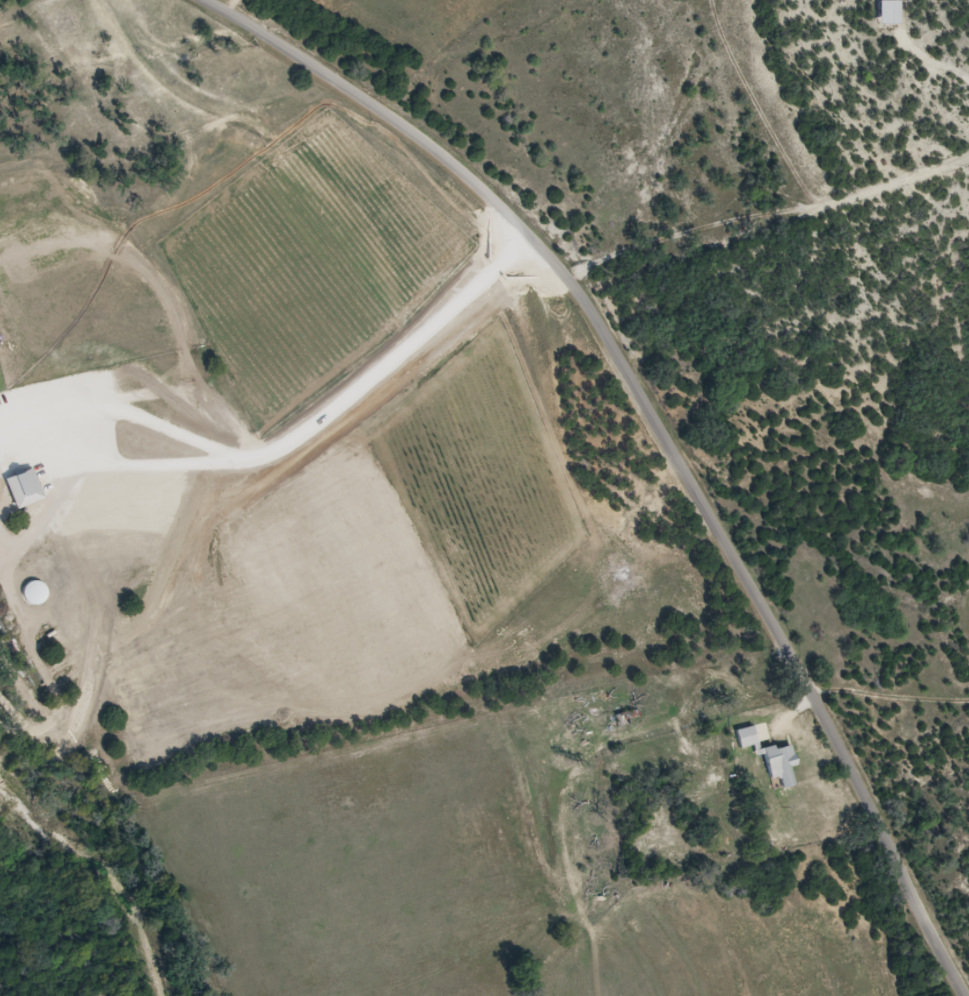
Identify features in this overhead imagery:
building: (890, 14)
parking lot: (24, 408)
road: (660, 431)
road: (281, 436)
parking lot: (0, 471)
building: (26, 488)
road: (5, 510)
road: (0, 578)
building: (748, 737)
building: (782, 764)

